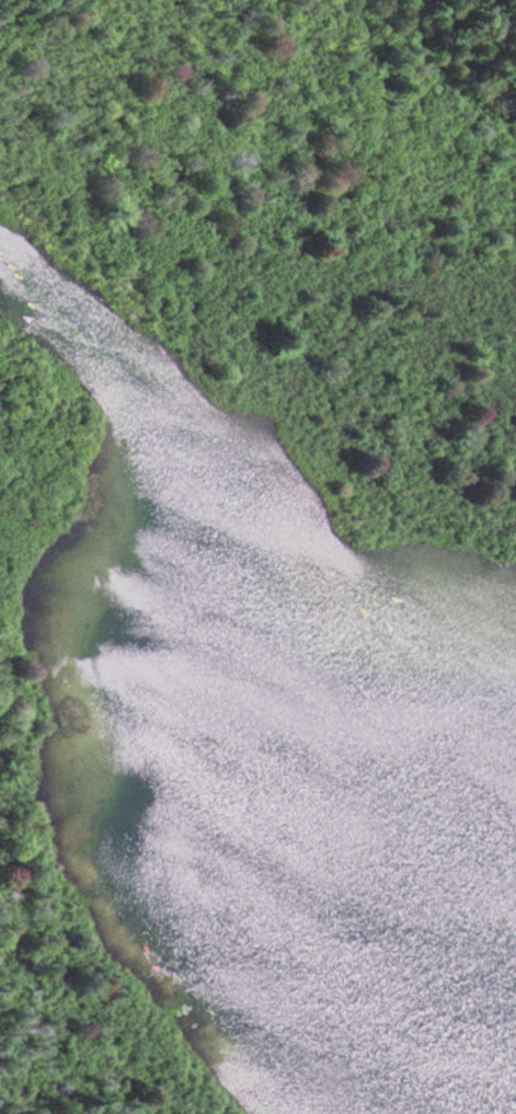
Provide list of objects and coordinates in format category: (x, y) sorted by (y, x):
river: (221, 632)

